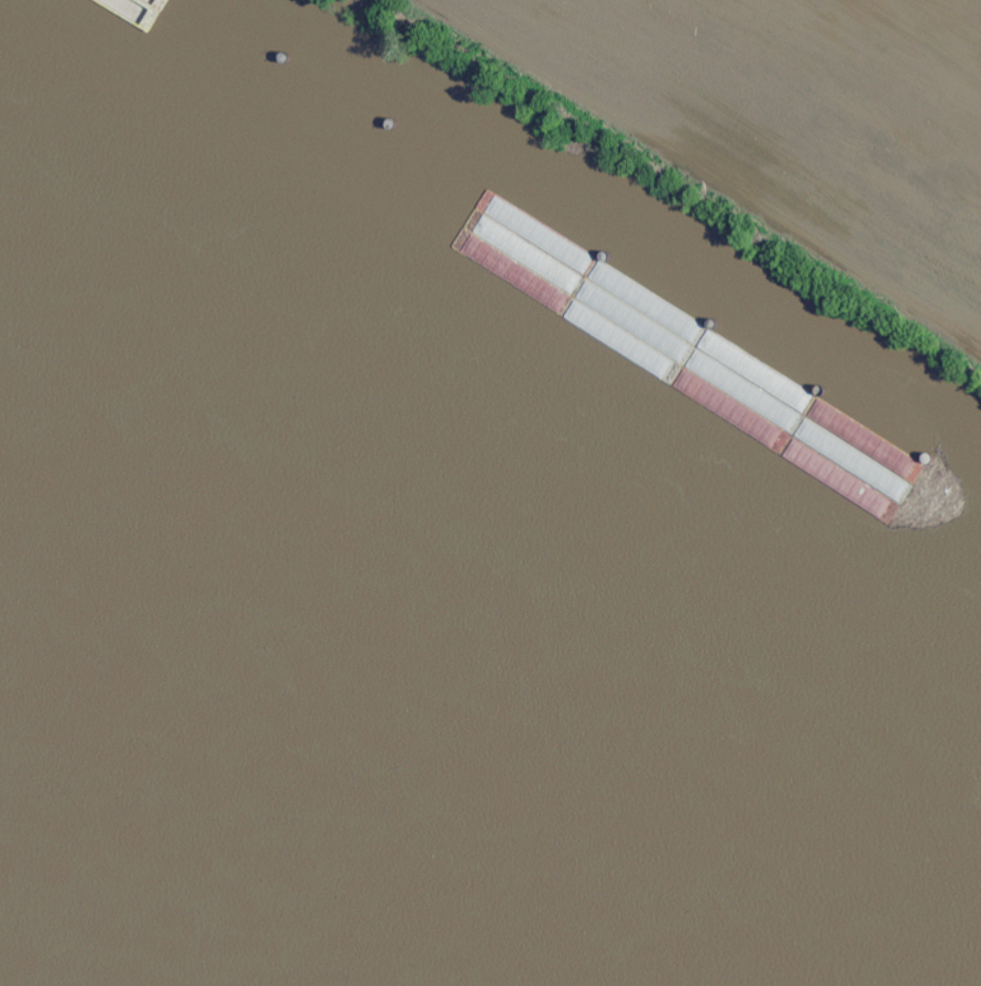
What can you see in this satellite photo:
road: (861, 76)
building: (395, 224)
building: (387, 245)
river: (308, 824)

